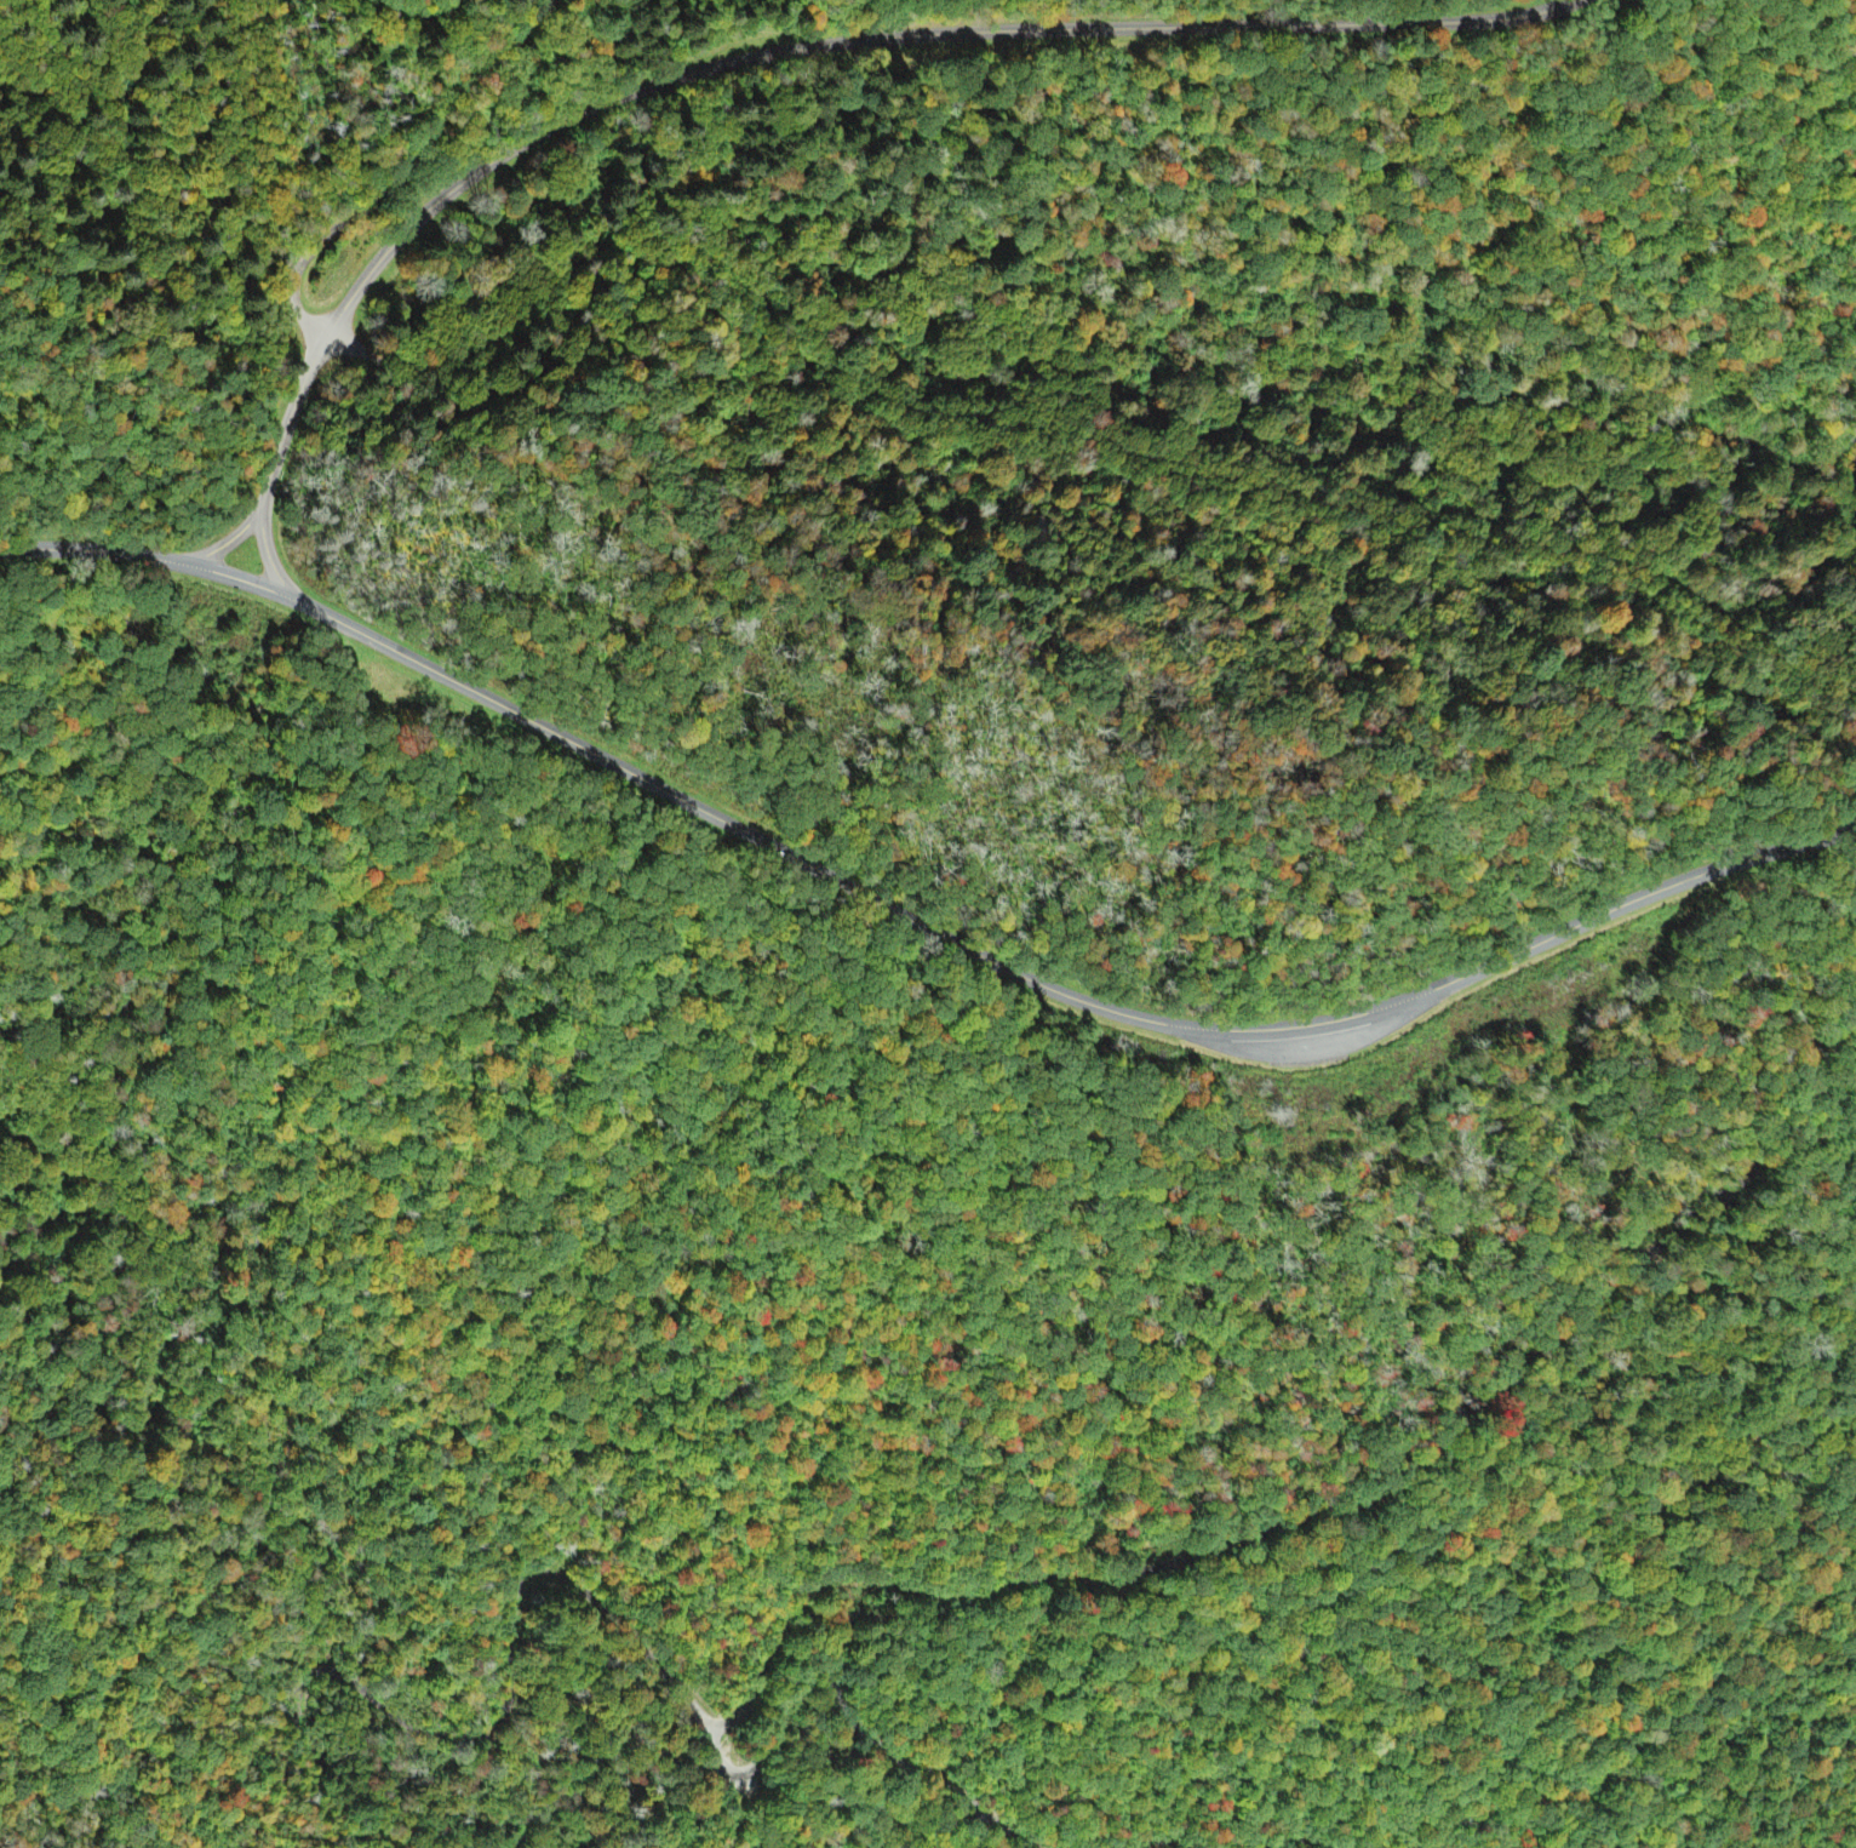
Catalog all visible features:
road: (414, 13)
road: (906, 36)
road: (400, 165)
road: (293, 417)
road: (1064, 439)
road: (230, 540)
road: (271, 554)
road: (915, 917)
parking lot: (1313, 1040)
road: (1302, 1048)
road: (1306, 1515)
road: (849, 1706)
road: (500, 1718)
road: (1295, 1837)
road: (1161, 1841)

